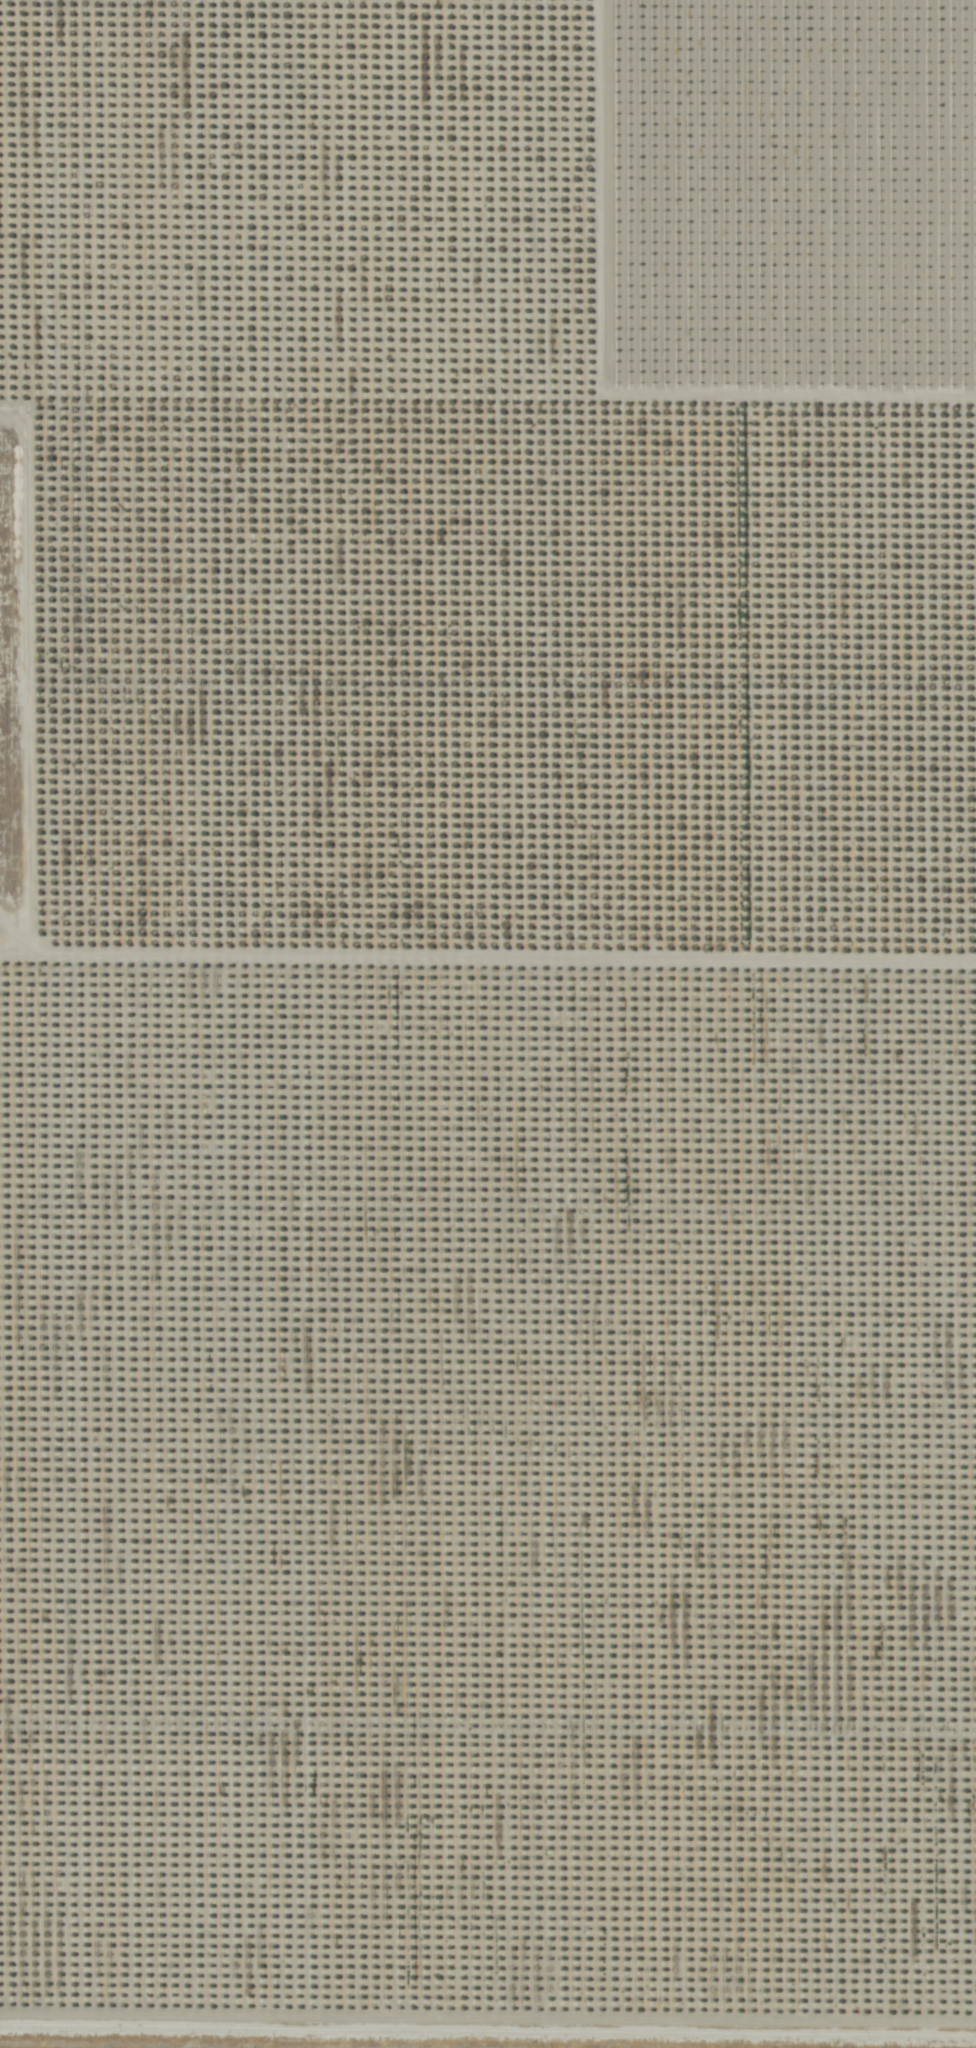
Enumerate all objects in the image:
crop: (487, 1023)

